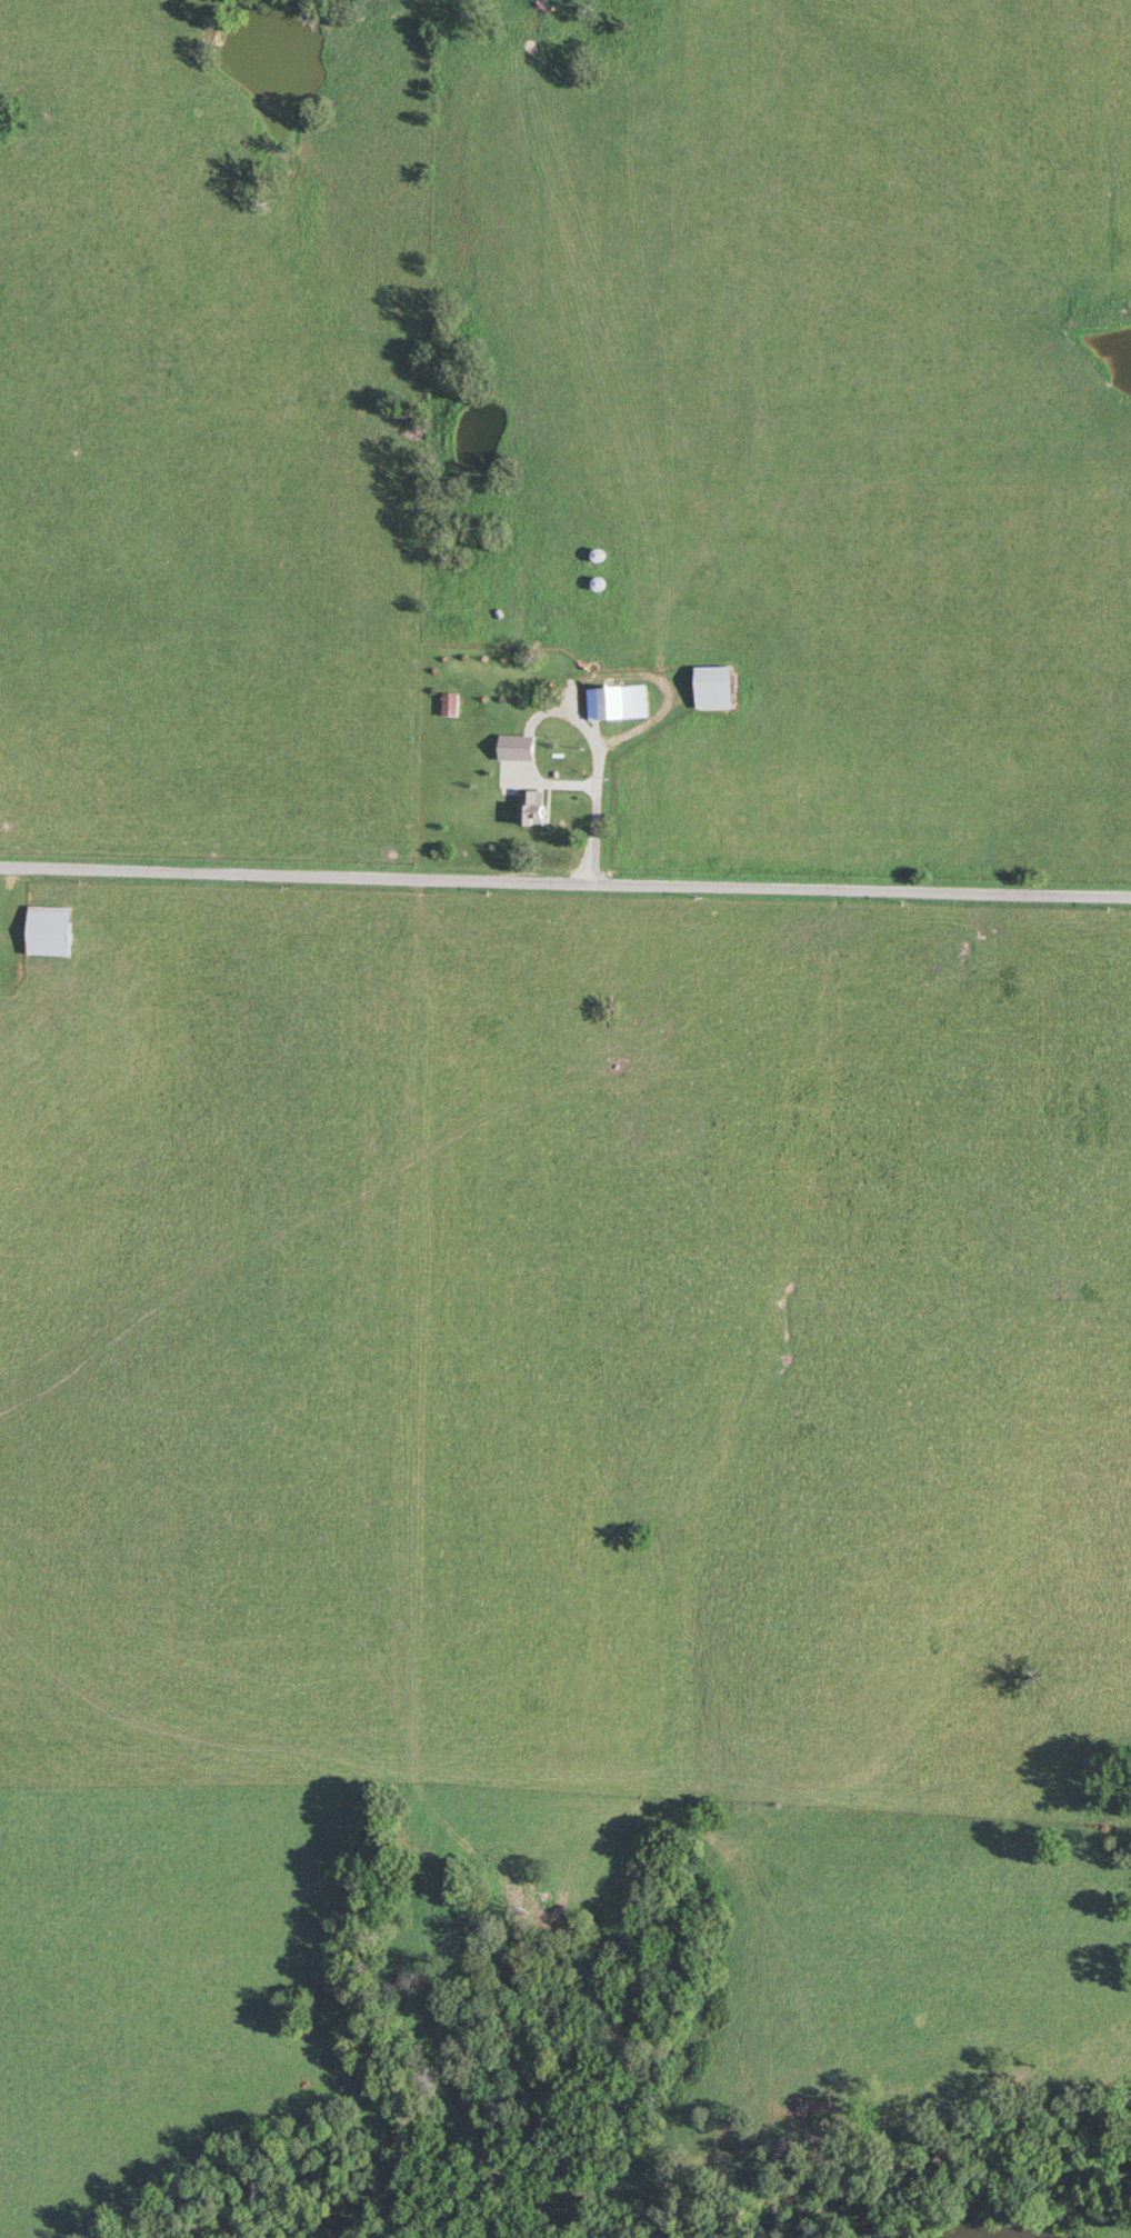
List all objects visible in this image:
building: (713, 686)
building: (615, 701)
building: (449, 702)
building: (511, 727)
building: (529, 800)
road: (594, 816)
road: (564, 886)
building: (48, 928)

